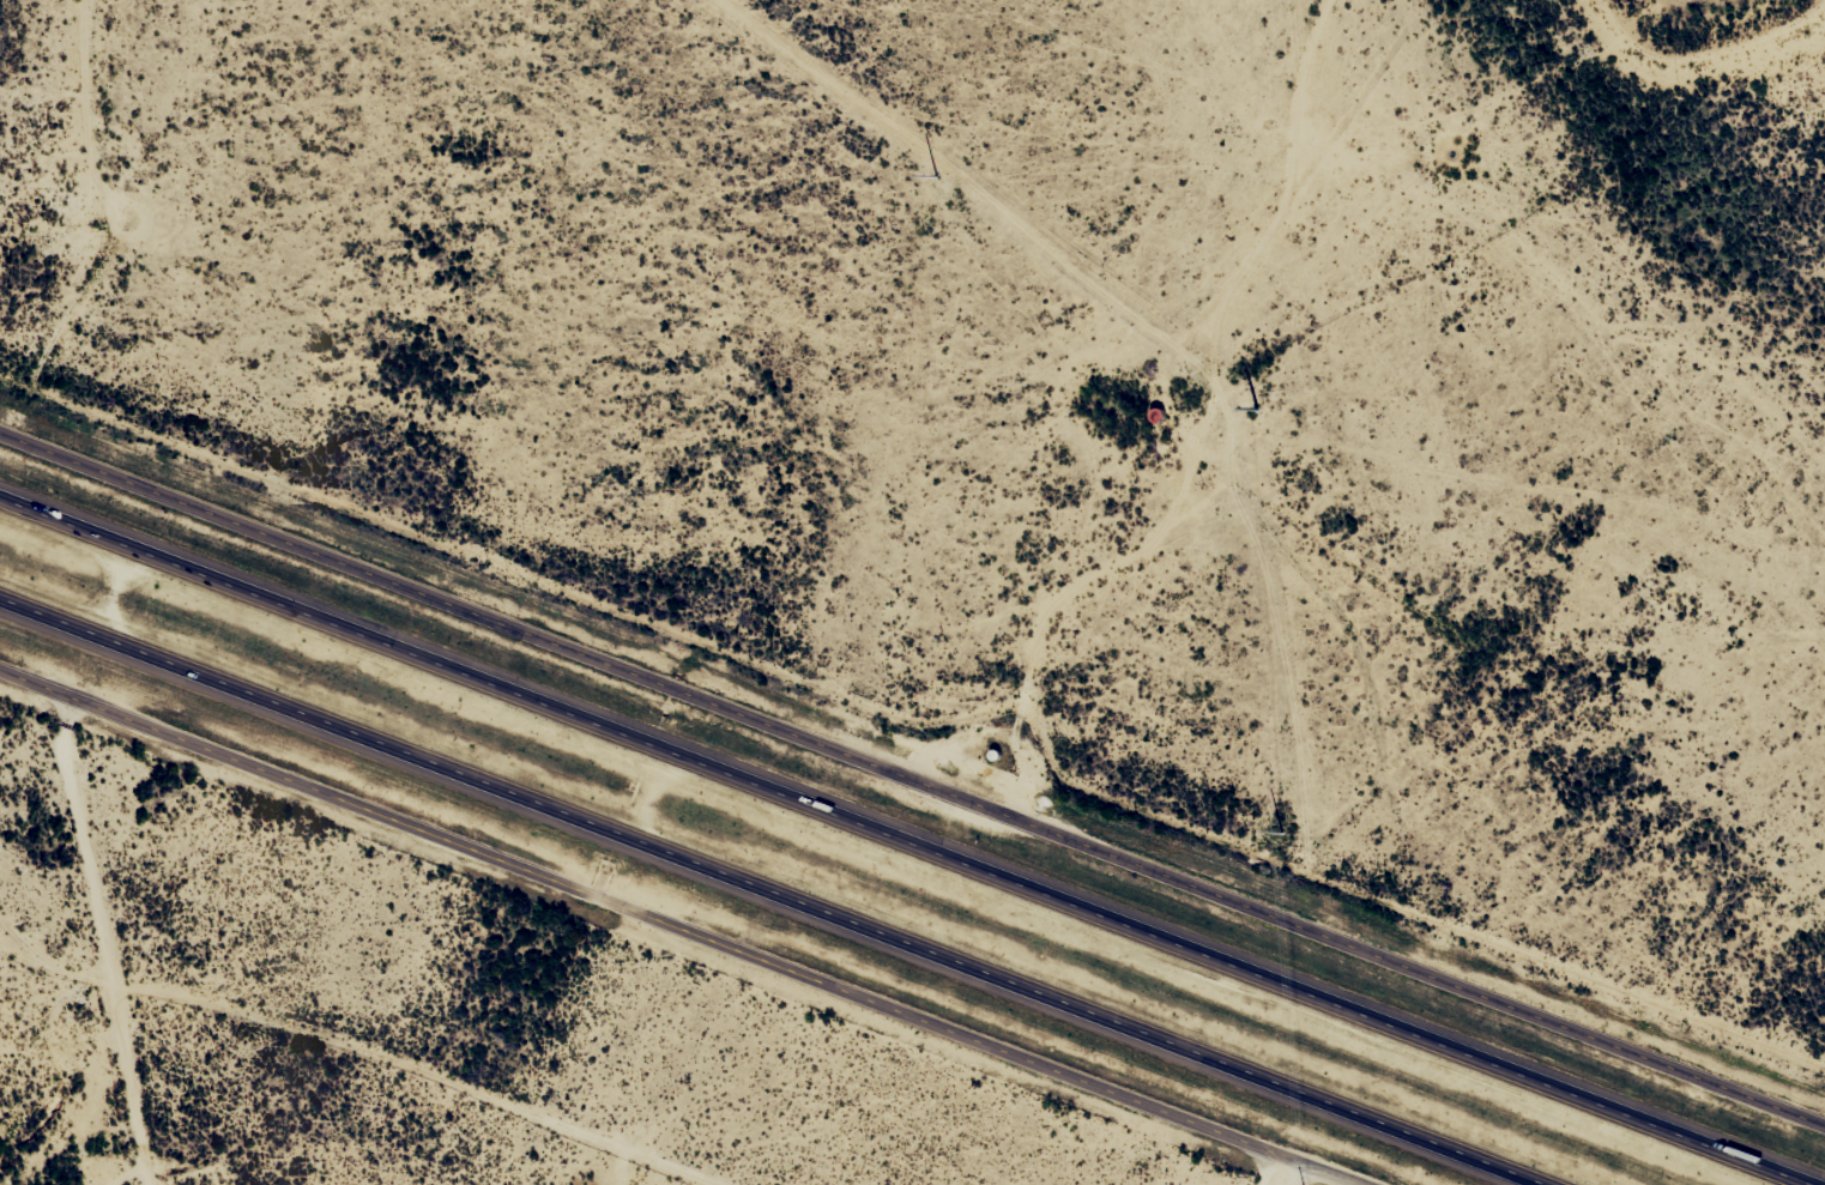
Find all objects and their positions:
power tower: (937, 176)
power tower: (1257, 407)
road: (912, 774)
power tower: (1282, 829)
road: (912, 834)
road: (756, 896)
road: (60, 911)
road: (657, 935)
road: (86, 1135)

